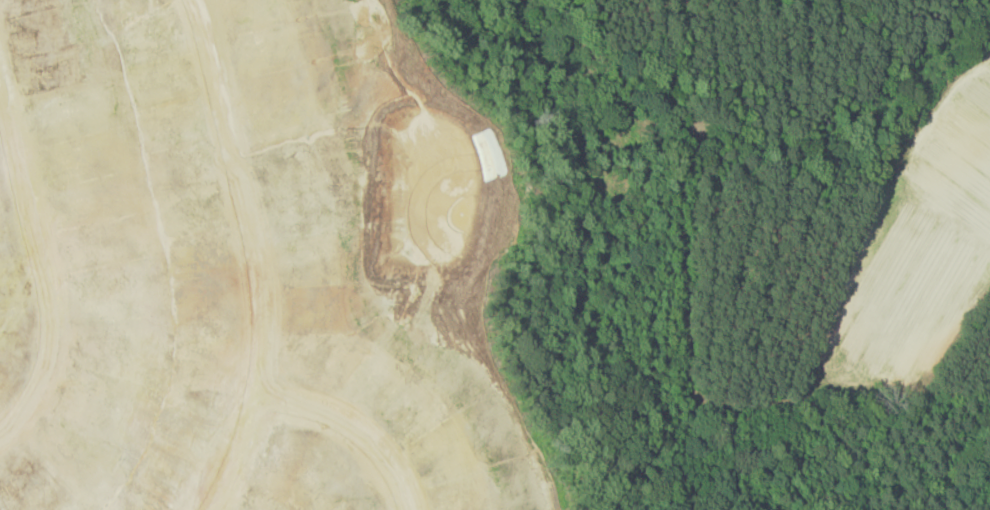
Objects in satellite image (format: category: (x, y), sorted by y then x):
road: (255, 256)
road: (42, 266)
building: (260, 346)
road: (354, 430)
building: (250, 477)

